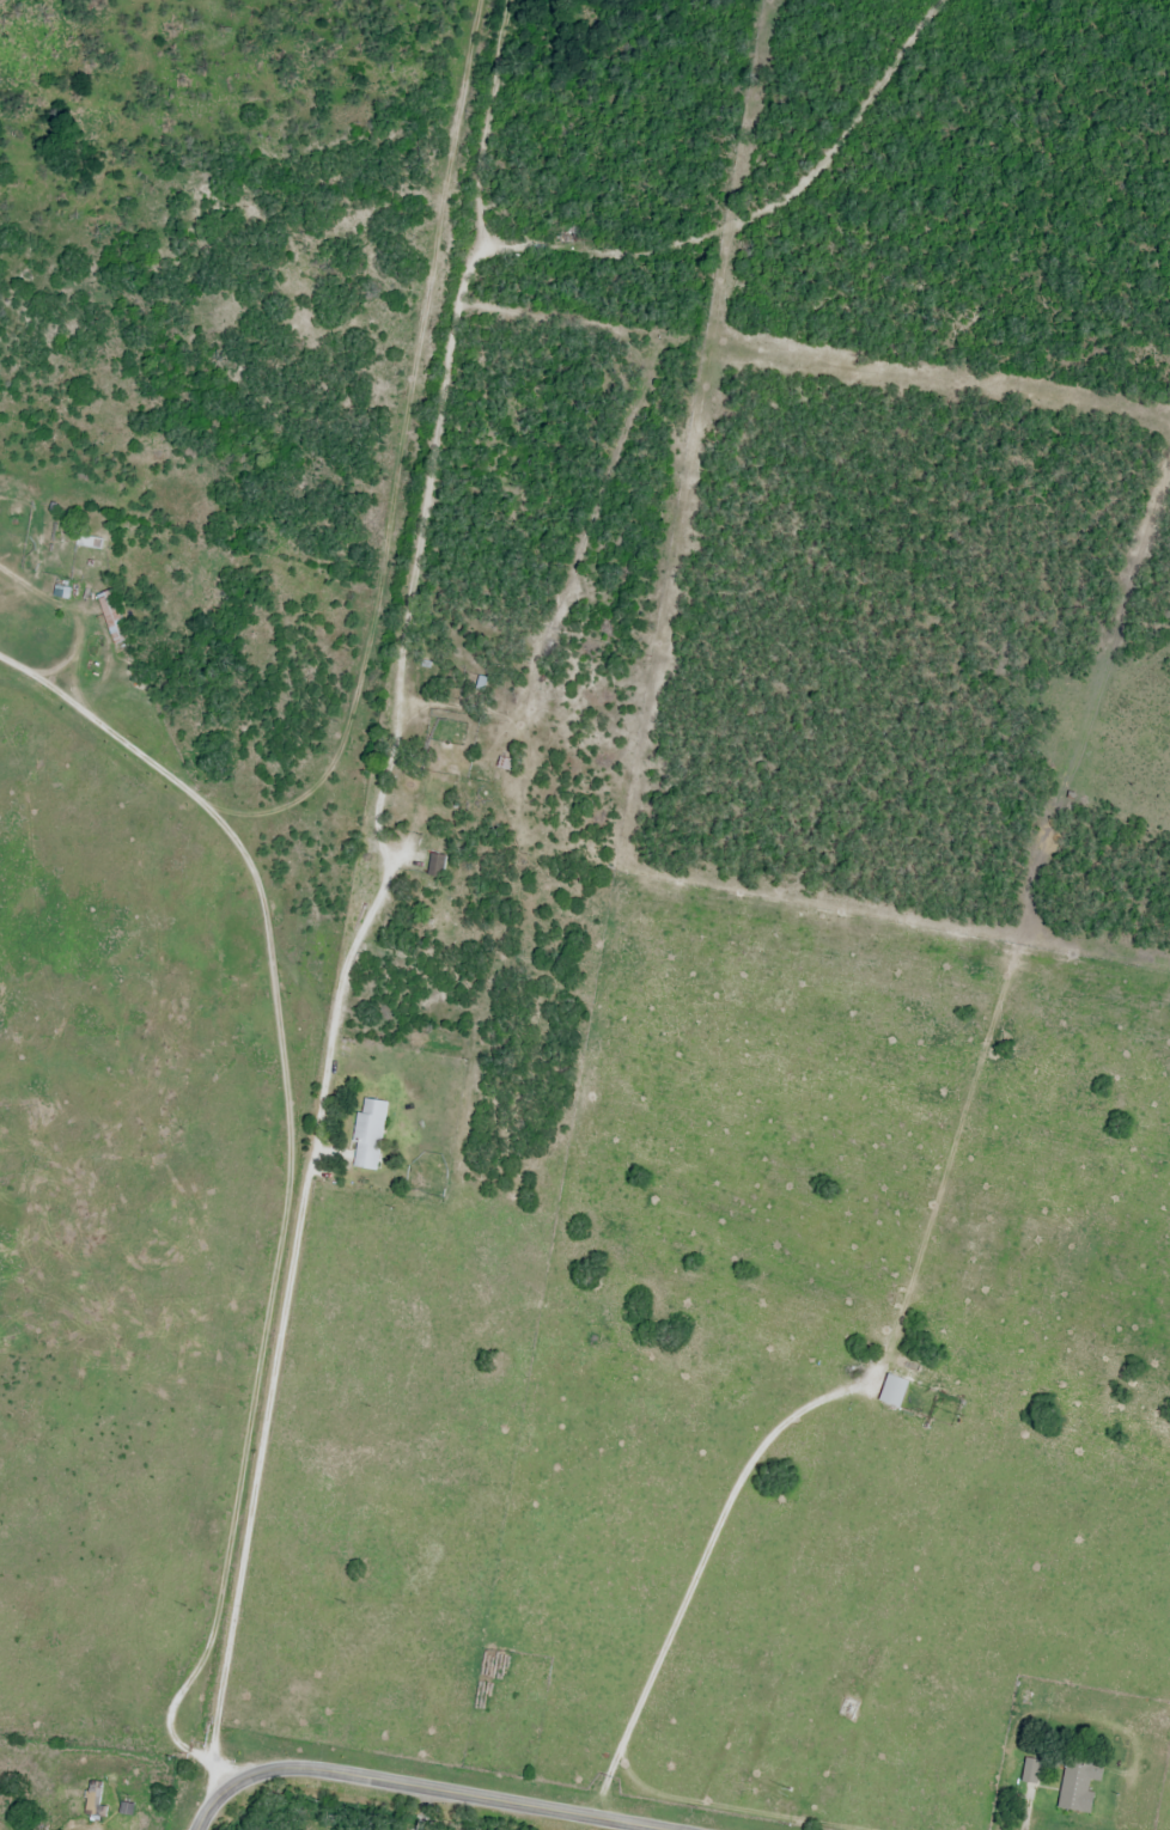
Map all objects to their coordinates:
building: (84, 542)
building: (106, 616)
building: (502, 763)
road: (329, 901)
building: (364, 1134)
road: (292, 1330)
building: (886, 1391)
road: (420, 1787)
building: (96, 1798)

